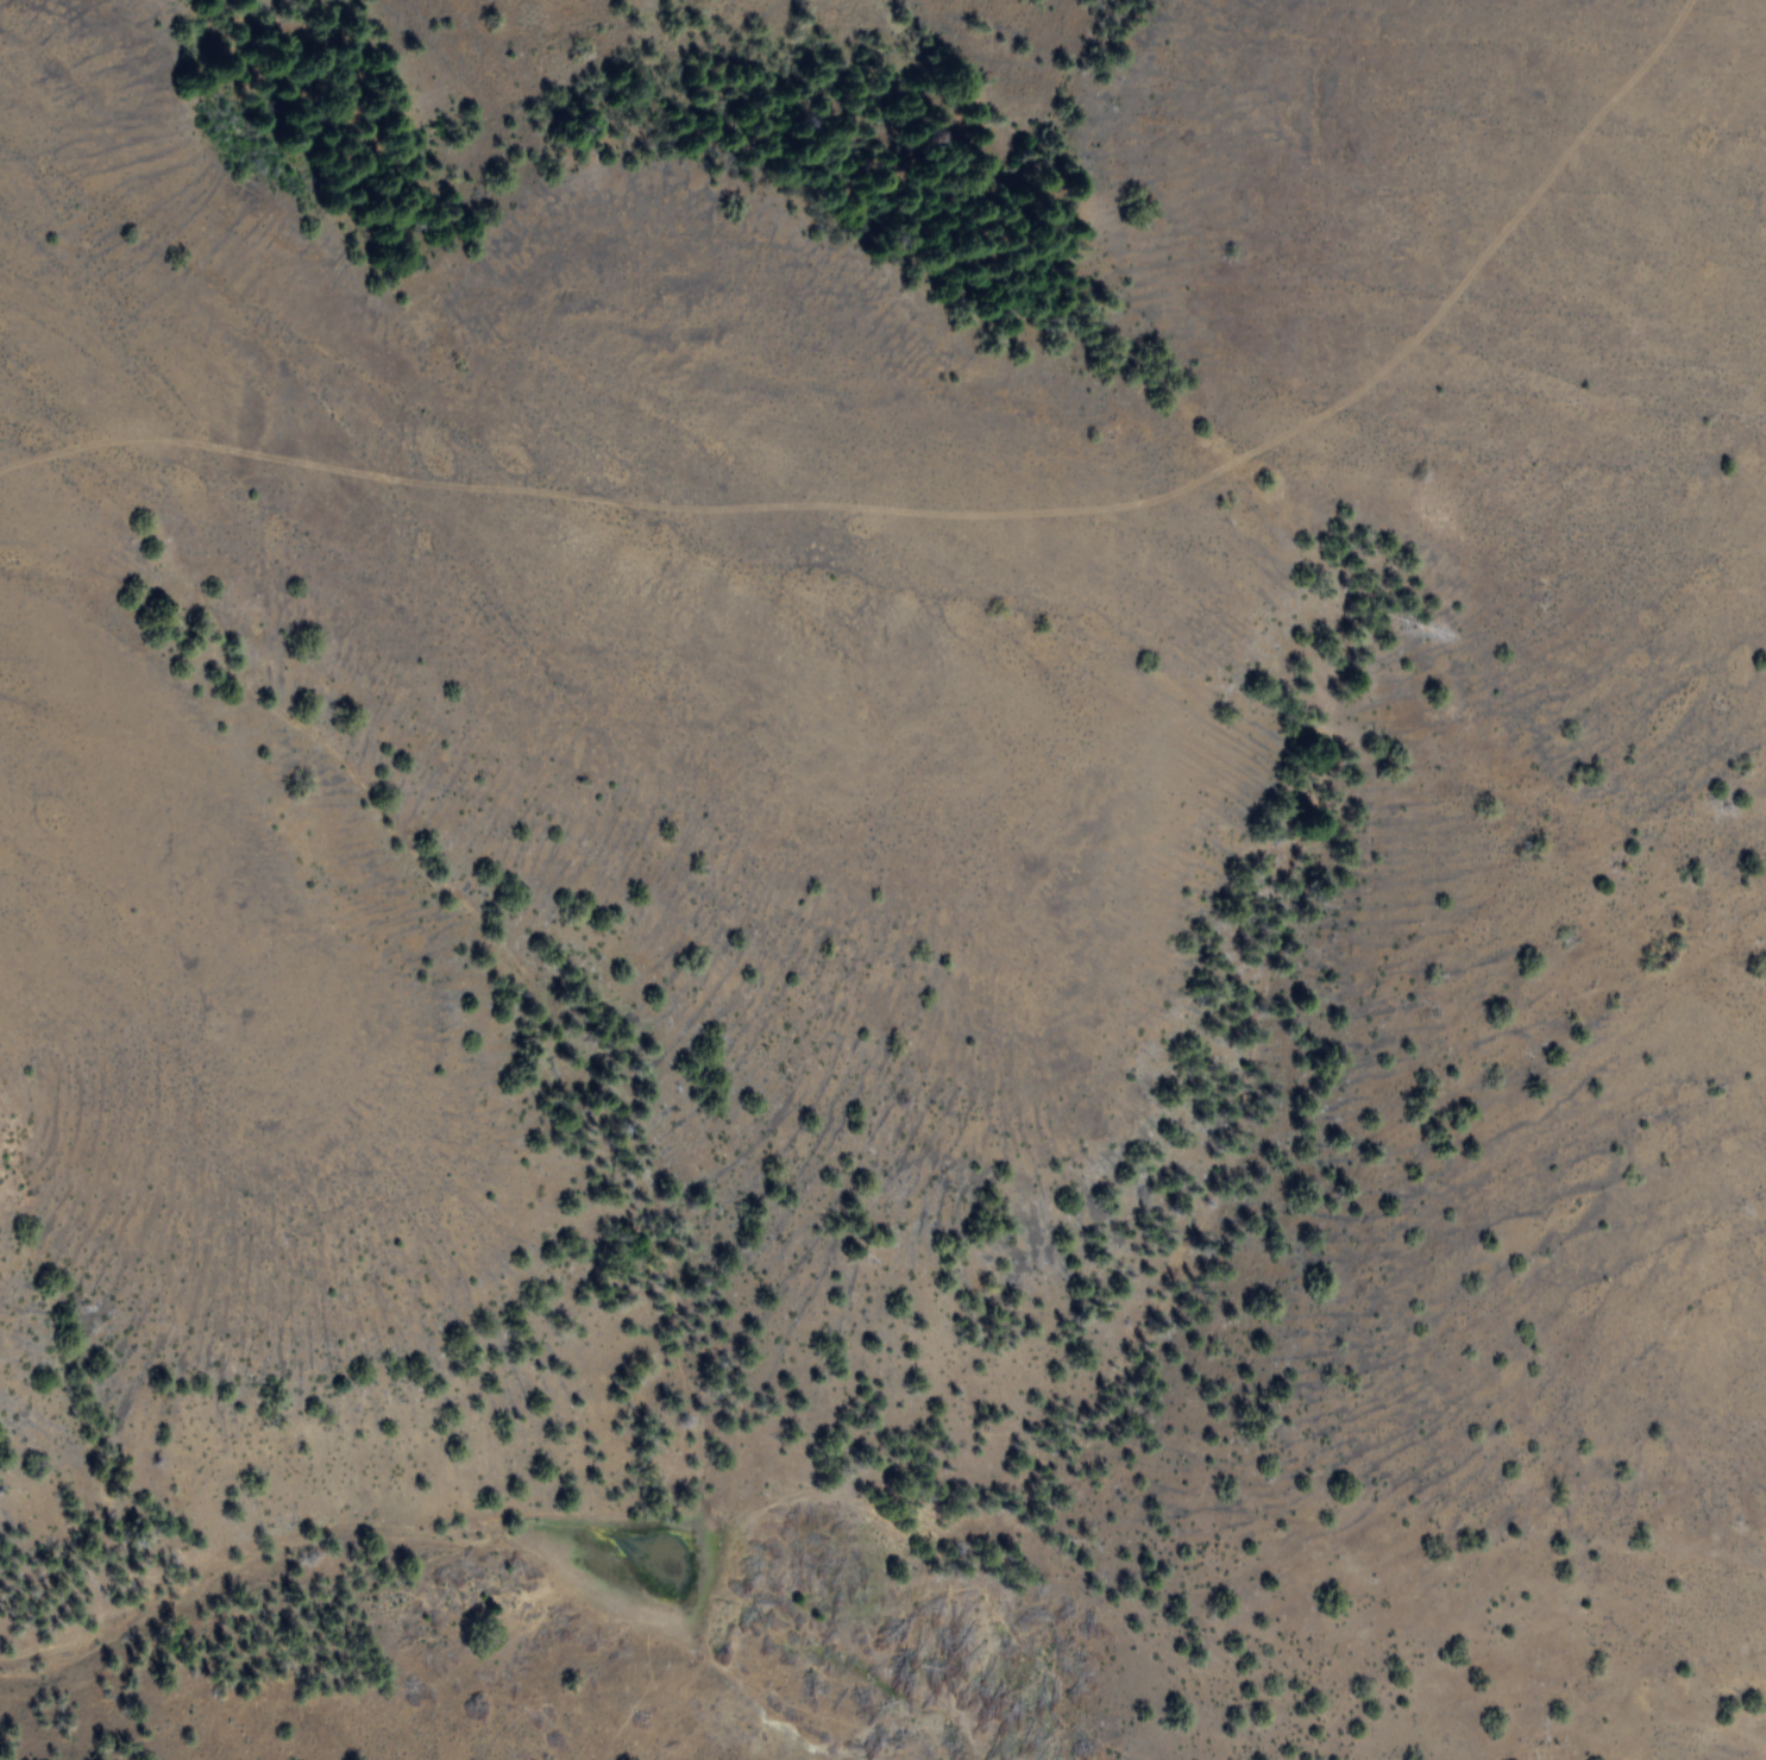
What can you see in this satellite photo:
road: (939, 508)

